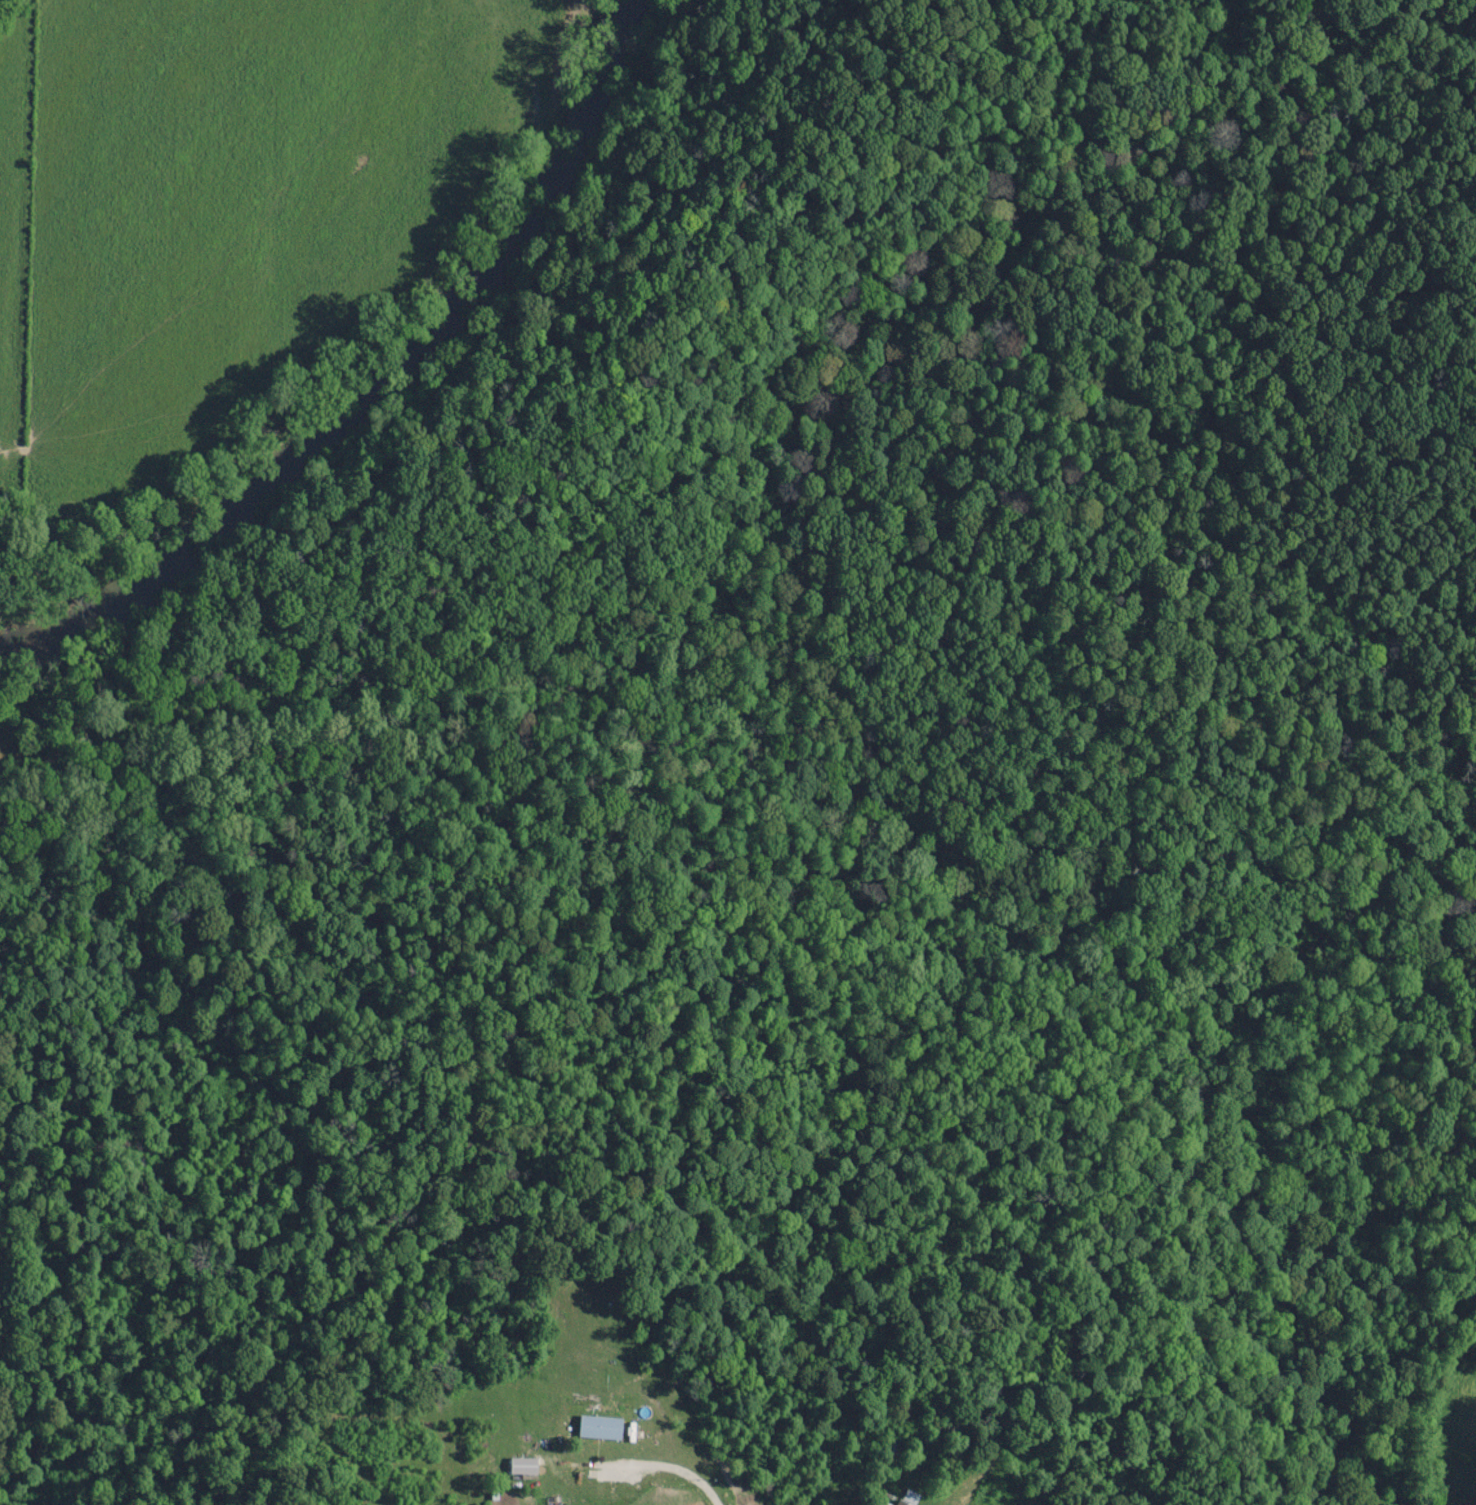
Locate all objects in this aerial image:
building: (597, 1428)
building: (521, 1466)

